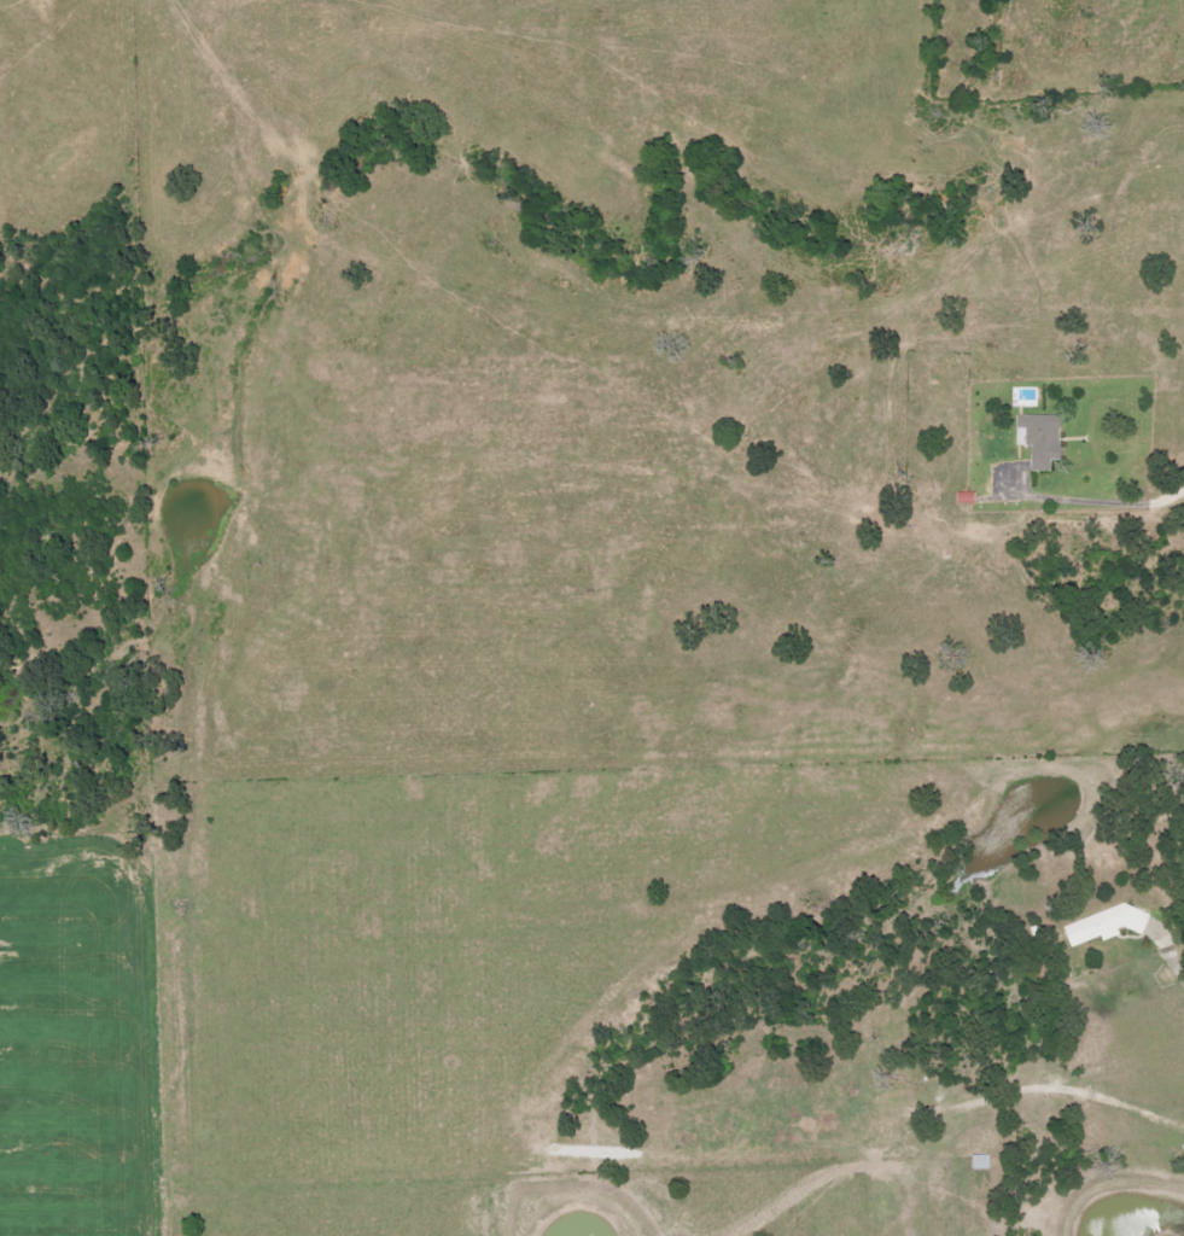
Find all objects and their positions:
building: (1042, 439)
building: (1106, 925)

